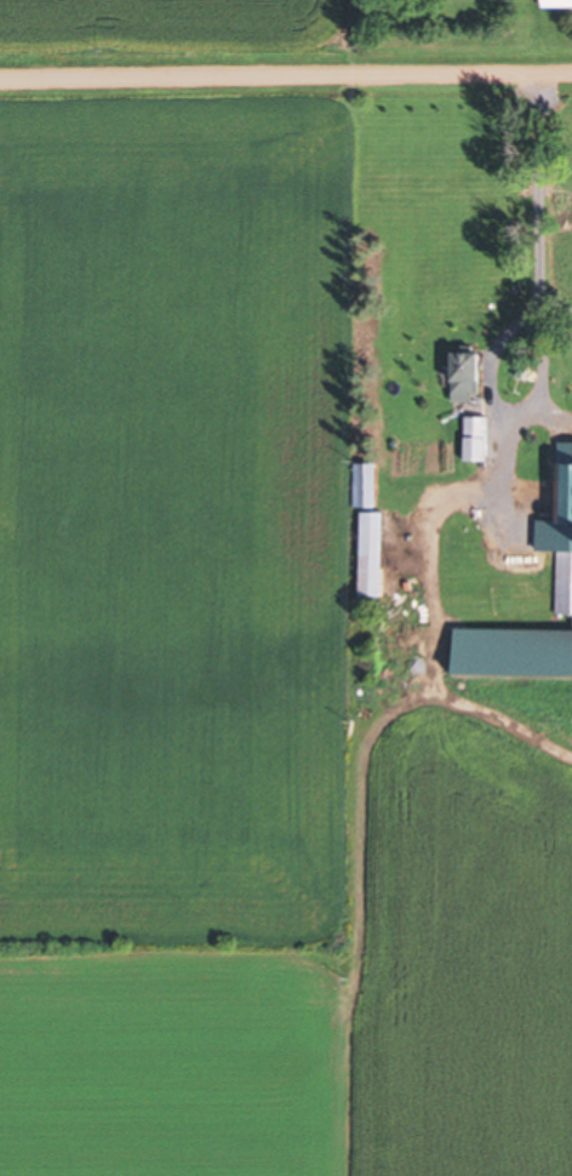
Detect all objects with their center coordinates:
building: (559, 2)
road: (285, 78)
building: (476, 376)
building: (482, 438)
building: (367, 484)
building: (562, 538)
building: (377, 554)
building: (517, 652)

